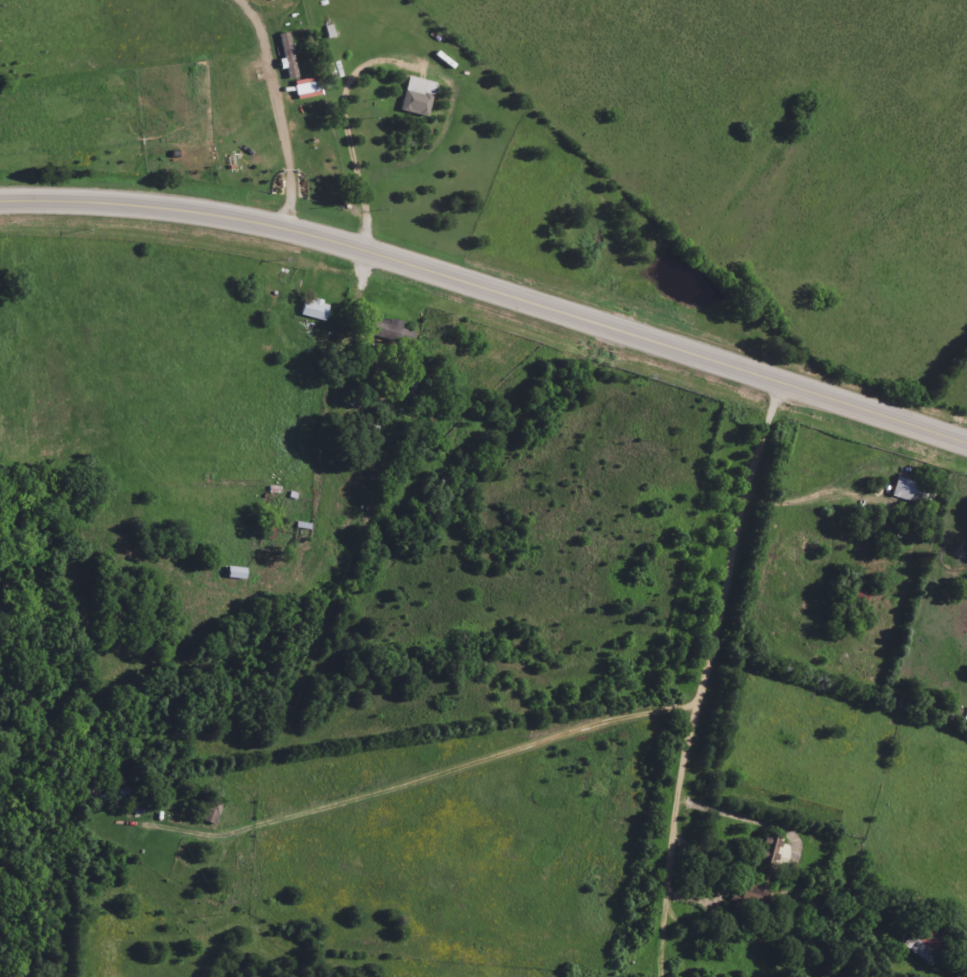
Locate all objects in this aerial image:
building: (289, 57)
building: (308, 88)
building: (419, 96)
road: (341, 125)
road: (280, 157)
road: (489, 289)
building: (316, 309)
building: (391, 328)
building: (914, 493)
road: (810, 495)
road: (700, 676)
building: (774, 851)
building: (931, 939)

